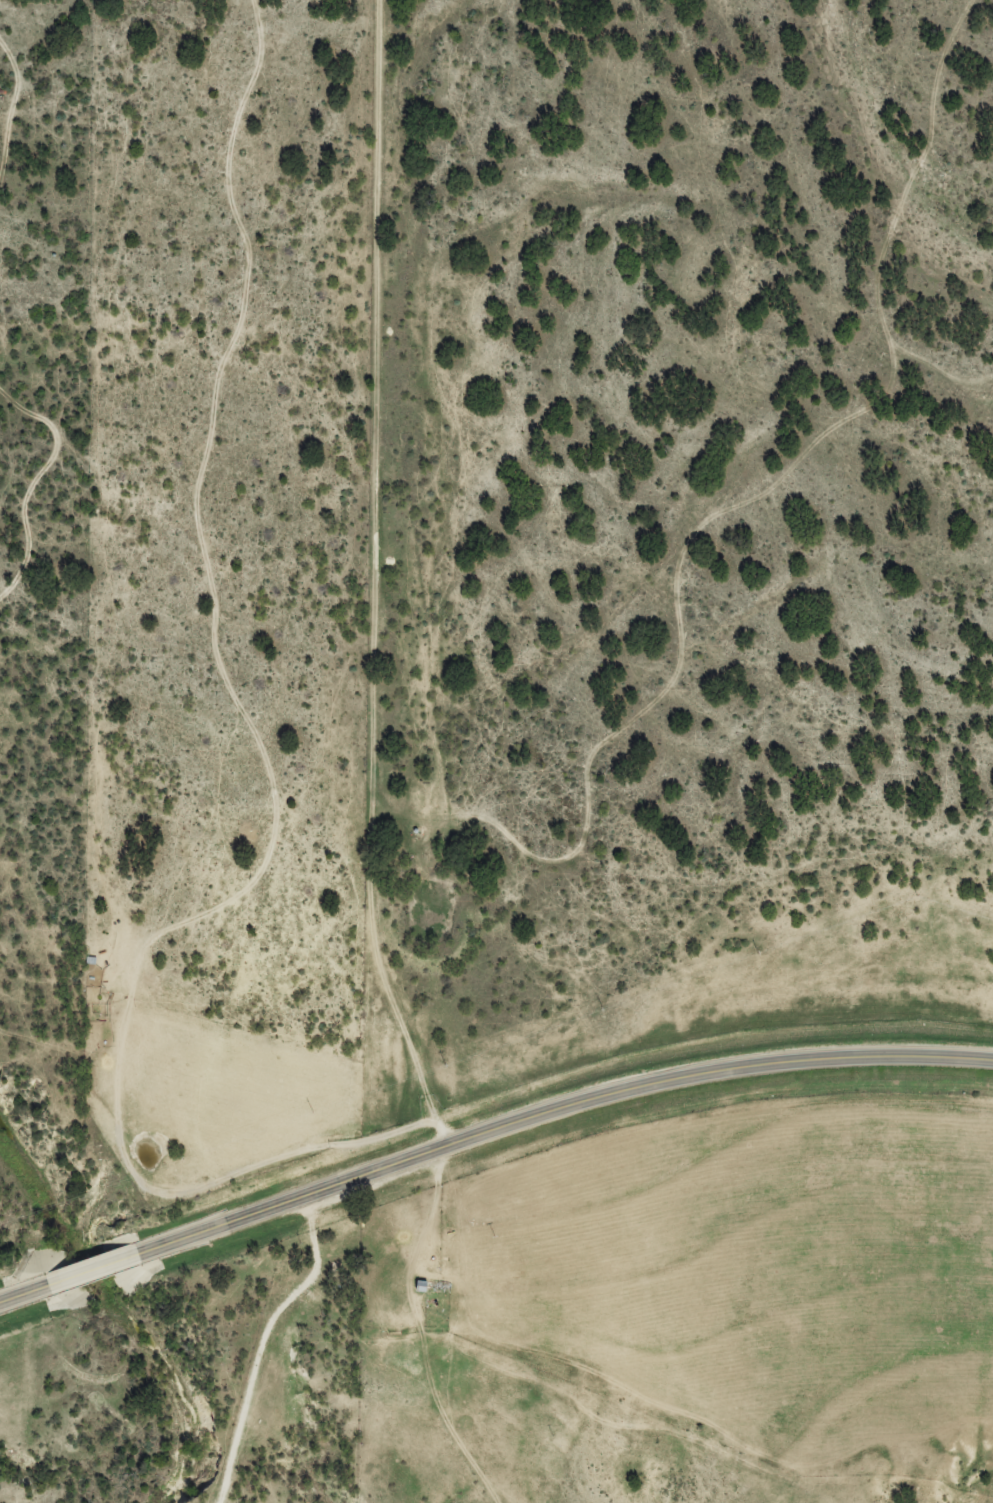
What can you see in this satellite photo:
road: (440, 593)
road: (557, 1107)
building: (107, 1264)
road: (97, 1271)
road: (27, 1296)
road: (262, 1346)

